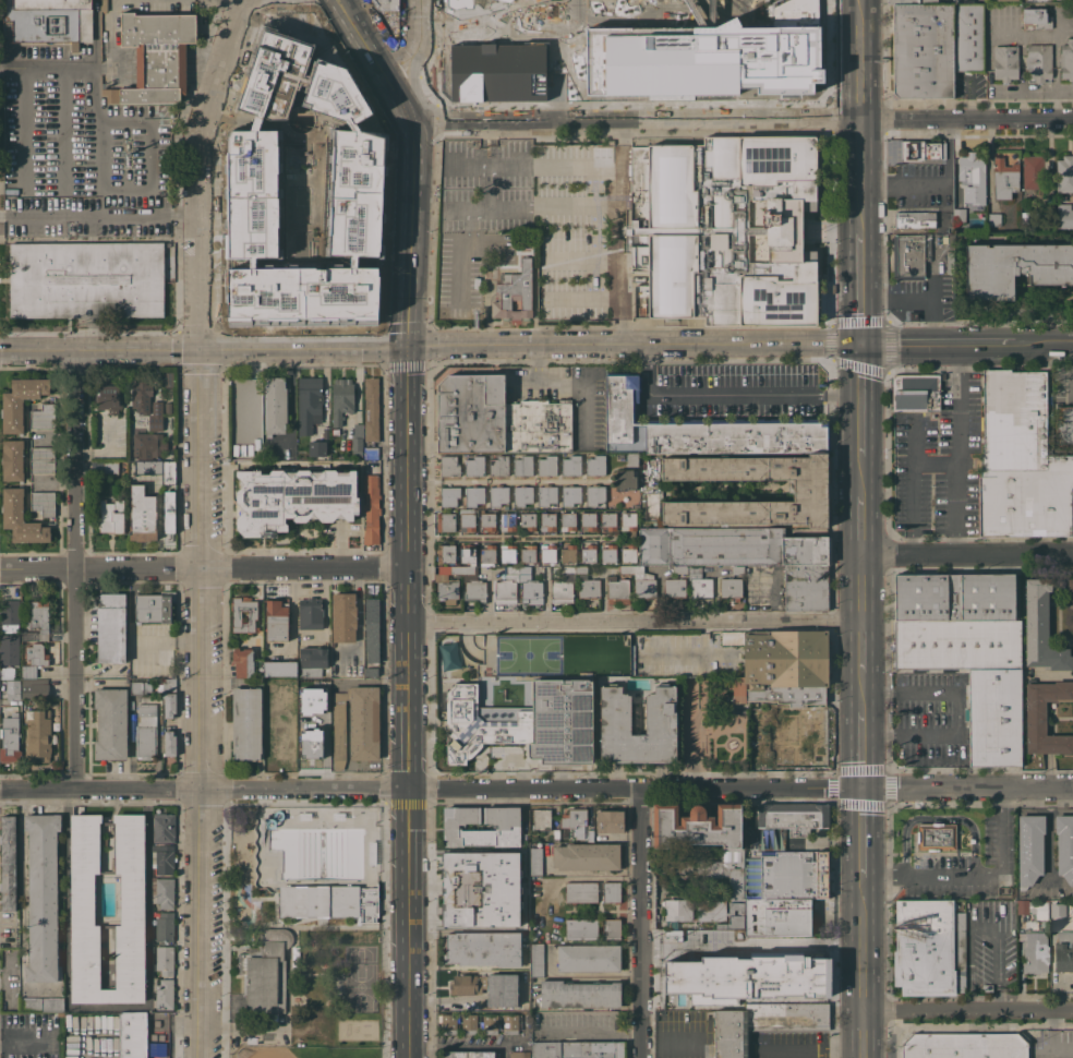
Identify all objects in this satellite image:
road: (257, 0)
building: (456, 0)
building: (1006, 0)
building: (902, 1)
building: (929, 1)
building: (386, 4)
road: (424, 4)
road: (558, 4)
building: (1036, 17)
building: (41, 20)
road: (1022, 34)
road: (409, 45)
building: (935, 47)
building: (156, 56)
building: (700, 59)
road: (863, 59)
building: (1066, 59)
building: (1004, 62)
building: (1038, 63)
road: (427, 70)
building: (496, 72)
road: (94, 73)
road: (1021, 76)
building: (104, 92)
road: (967, 119)
road: (636, 121)
building: (891, 151)
building: (919, 151)
road: (863, 156)
road: (203, 165)
building: (1033, 171)
building: (1064, 173)
building: (972, 175)
building: (1004, 178)
road: (936, 181)
road: (554, 209)
building: (1049, 209)
road: (478, 211)
road: (863, 214)
road: (101, 215)
building: (959, 215)
building: (1064, 216)
parking lot: (557, 217)
building: (993, 219)
building: (914, 220)
building: (724, 229)
road: (620, 233)
building: (938, 236)
building: (911, 255)
building: (1014, 267)
building: (507, 268)
building: (86, 279)
road: (864, 289)
road: (901, 291)
building: (514, 292)
road: (938, 293)
building: (914, 315)
road: (967, 342)
traffic signals: (864, 345)
road: (431, 347)
traffic signals: (202, 348)
traffic signals: (410, 348)
building: (168, 378)
road: (571, 382)
parking lot: (726, 393)
building: (915, 393)
road: (733, 394)
building: (109, 396)
building: (341, 399)
parking lot: (568, 399)
building: (21, 400)
building: (242, 400)
road: (864, 400)
building: (146, 404)
building: (309, 405)
building: (274, 406)
building: (167, 407)
building: (371, 409)
building: (470, 413)
building: (43, 417)
building: (1064, 424)
building: (538, 425)
building: (702, 429)
building: (357, 440)
building: (238, 442)
road: (912, 442)
building: (146, 445)
building: (255, 445)
building: (314, 447)
road: (960, 448)
building: (371, 453)
building: (41, 459)
building: (631, 459)
building: (12, 460)
building: (1020, 460)
road: (936, 462)
parking lot: (940, 462)
building: (594, 464)
building: (97, 465)
building: (546, 465)
building: (570, 465)
building: (449, 466)
building: (474, 466)
building: (498, 466)
building: (522, 466)
building: (110, 467)
building: (147, 467)
building: (168, 472)
road: (864, 476)
building: (627, 479)
road: (506, 480)
building: (809, 490)
building: (473, 495)
building: (498, 495)
building: (522, 495)
building: (546, 495)
building: (570, 495)
building: (594, 495)
building: (449, 496)
building: (292, 498)
building: (43, 503)
building: (371, 504)
road: (912, 507)
building: (169, 513)
building: (142, 514)
building: (111, 516)
building: (21, 518)
road: (409, 519)
building: (467, 520)
building: (487, 520)
building: (568, 520)
building: (588, 520)
building: (445, 521)
building: (508, 521)
building: (528, 521)
building: (547, 521)
building: (608, 521)
building: (628, 522)
road: (864, 525)
building: (782, 528)
road: (967, 552)
building: (445, 553)
building: (508, 553)
building: (528, 553)
building: (548, 553)
building: (589, 553)
building: (608, 553)
building: (628, 553)
building: (468, 554)
building: (486, 554)
building: (568, 554)
building: (746, 556)
road: (204, 566)
road: (76, 568)
building: (575, 569)
building: (640, 580)
building: (449, 582)
building: (699, 582)
building: (732, 582)
building: (675, 584)
building: (507, 586)
building: (529, 587)
road: (864, 587)
building: (1070, 587)
building: (589, 588)
building: (473, 589)
building: (617, 589)
building: (562, 590)
building: (954, 597)
building: (154, 606)
building: (310, 613)
building: (10, 615)
building: (252, 615)
building: (343, 616)
building: (276, 620)
building: (37, 621)
road: (636, 621)
building: (111, 627)
building: (371, 628)
building: (1040, 628)
road: (466, 642)
building: (956, 645)
road: (864, 646)
building: (9, 649)
building: (34, 659)
building: (312, 661)
building: (242, 662)
building: (258, 664)
building: (785, 666)
building: (280, 668)
building: (7, 672)
building: (371, 672)
building: (486, 680)
building: (284, 686)
building: (138, 687)
building: (159, 687)
building: (34, 688)
building: (10, 692)
road: (864, 692)
building: (169, 697)
building: (310, 700)
road: (197, 702)
road: (959, 709)
building: (660, 714)
building: (1045, 716)
building: (993, 717)
parking lot: (931, 718)
building: (522, 722)
building: (110, 723)
building: (246, 723)
building: (355, 724)
building: (145, 729)
building: (37, 735)
building: (785, 736)
building: (9, 738)
building: (277, 740)
building: (309, 742)
building: (169, 743)
road: (864, 749)
road: (535, 786)
traffic signals: (864, 786)
building: (793, 817)
road: (942, 818)
building: (541, 819)
building: (610, 821)
building: (577, 825)
building: (508, 826)
building: (164, 827)
road: (864, 831)
building: (556, 834)
building: (936, 837)
building: (1064, 846)
building: (1029, 849)
building: (518, 853)
building: (586, 856)
building: (162, 858)
building: (535, 861)
building: (8, 862)
building: (467, 866)
building: (720, 866)
road: (979, 877)
road: (592, 879)
building: (783, 890)
building: (580, 891)
building: (612, 891)
building: (162, 892)
building: (43, 898)
building: (82, 899)
building: (327, 901)
building: (466, 906)
building: (1033, 907)
road: (278, 910)
building: (677, 910)
building: (1058, 910)
building: (503, 915)
road: (642, 922)
building: (165, 927)
building: (581, 928)
building: (612, 928)
road: (297, 930)
park: (306, 931)
road: (753, 947)
building: (483, 948)
building: (929, 948)
building: (1035, 952)
building: (1063, 952)
building: (588, 958)
building: (165, 959)
building: (536, 960)
road: (865, 966)
building: (265, 972)
road: (587, 975)
building: (748, 976)
park: (363, 979)
building: (487, 987)
building: (162, 994)
building: (579, 994)
building: (41, 1003)
road: (290, 1006)
road: (968, 1012)
road: (241, 1020)
building: (510, 1023)
building: (762, 1023)
building: (448, 1024)
building: (469, 1024)
building: (490, 1024)
building: (523, 1026)
park: (360, 1029)
road: (592, 1030)
building: (136, 1037)
road: (1053, 1041)
road: (26, 1042)
building: (964, 1045)
road: (460, 1046)
building: (577, 1049)
road: (753, 1050)
building: (467, 1055)
building: (519, 1055)
park: (313, 1057)

